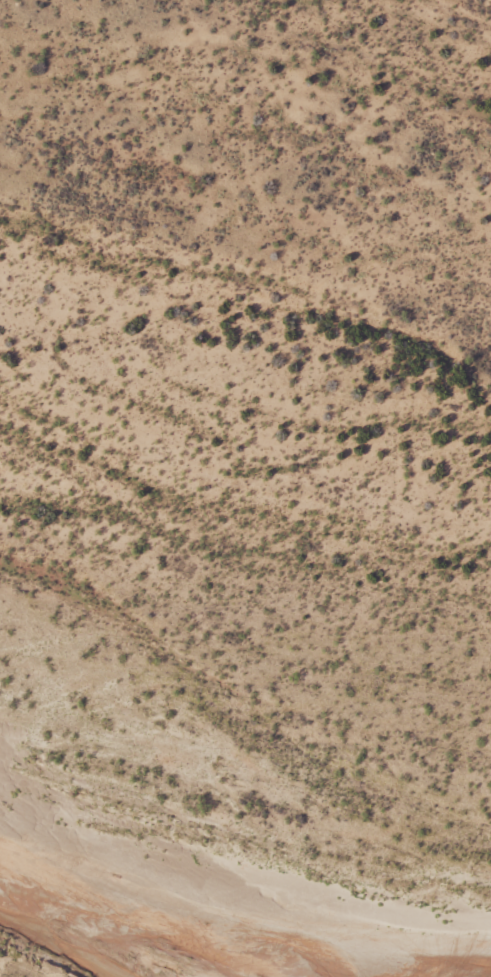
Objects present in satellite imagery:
river: (116, 943)

